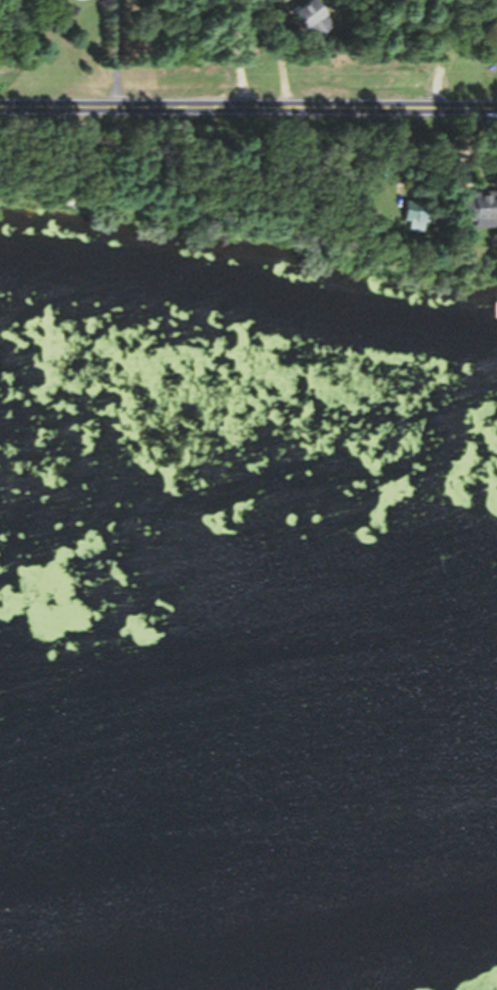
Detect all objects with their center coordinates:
building: (58, 0)
building: (289, 1)
building: (309, 19)
road: (434, 68)
road: (237, 73)
road: (279, 75)
road: (247, 146)
building: (467, 221)
river: (248, 919)

